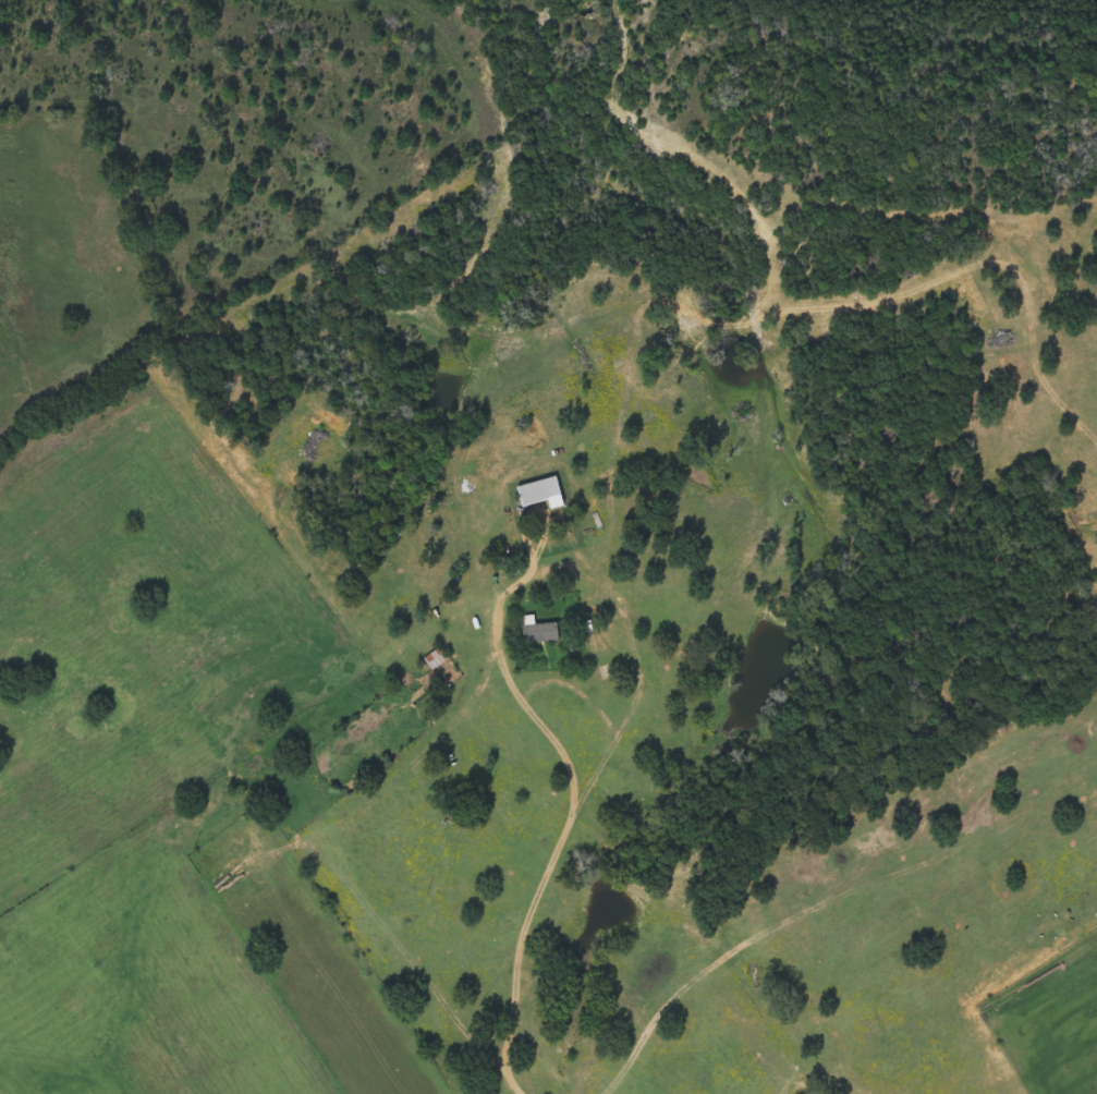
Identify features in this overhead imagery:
building: (545, 494)
building: (543, 632)
building: (439, 659)
road: (569, 803)

